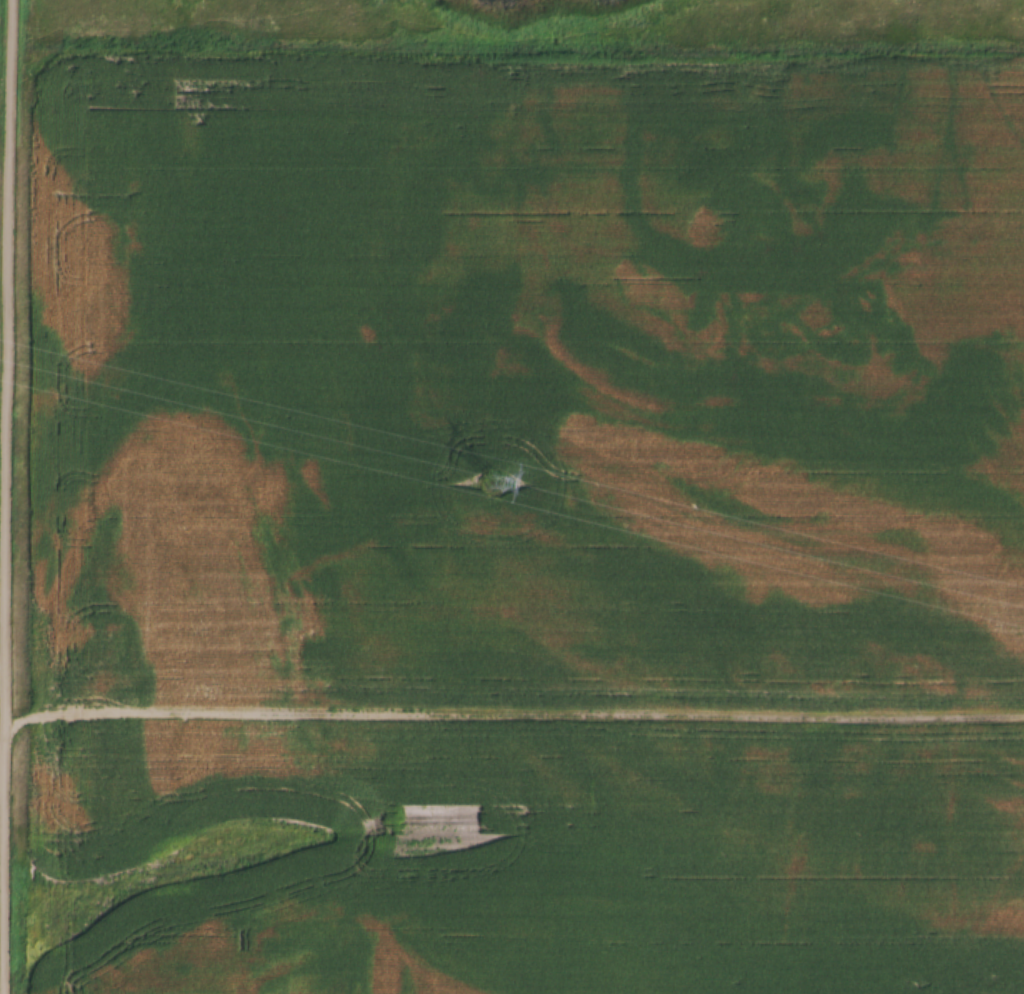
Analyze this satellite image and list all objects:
power tower: (489, 473)
road: (12, 497)

